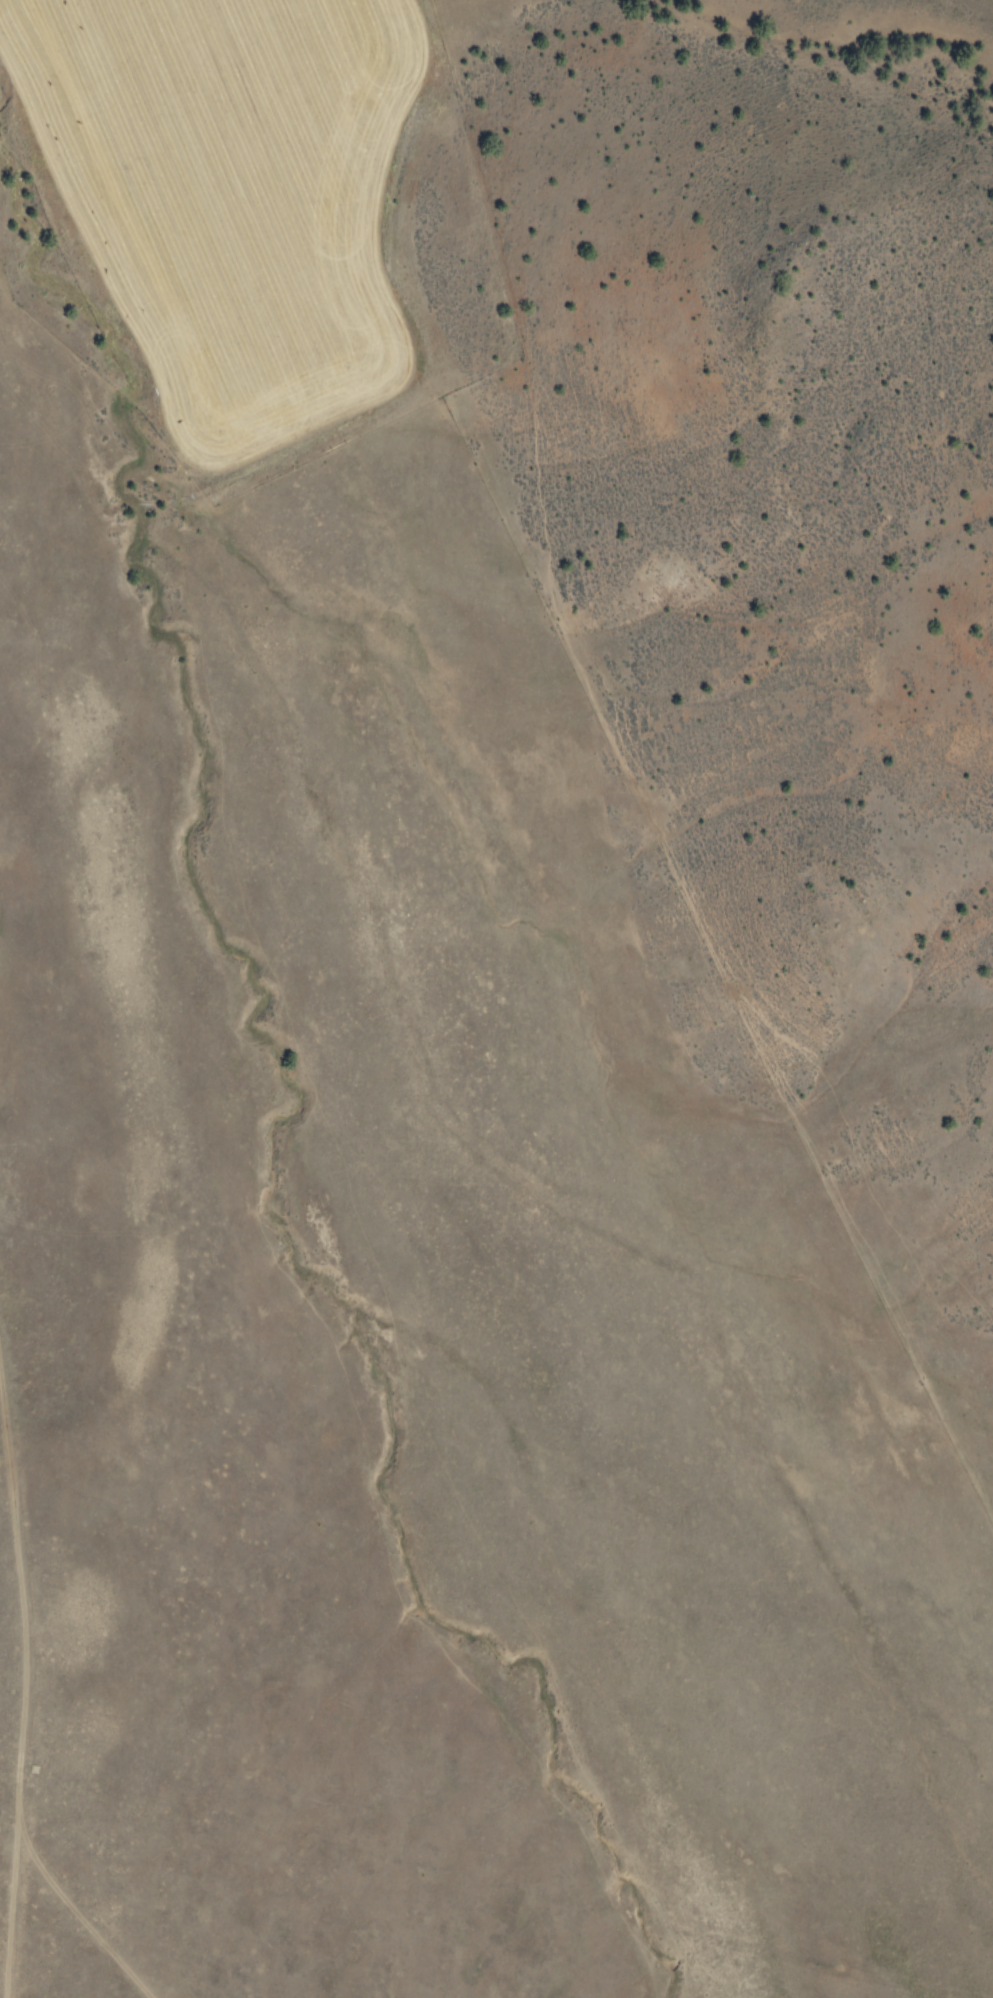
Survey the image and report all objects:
crop: (230, 208)

